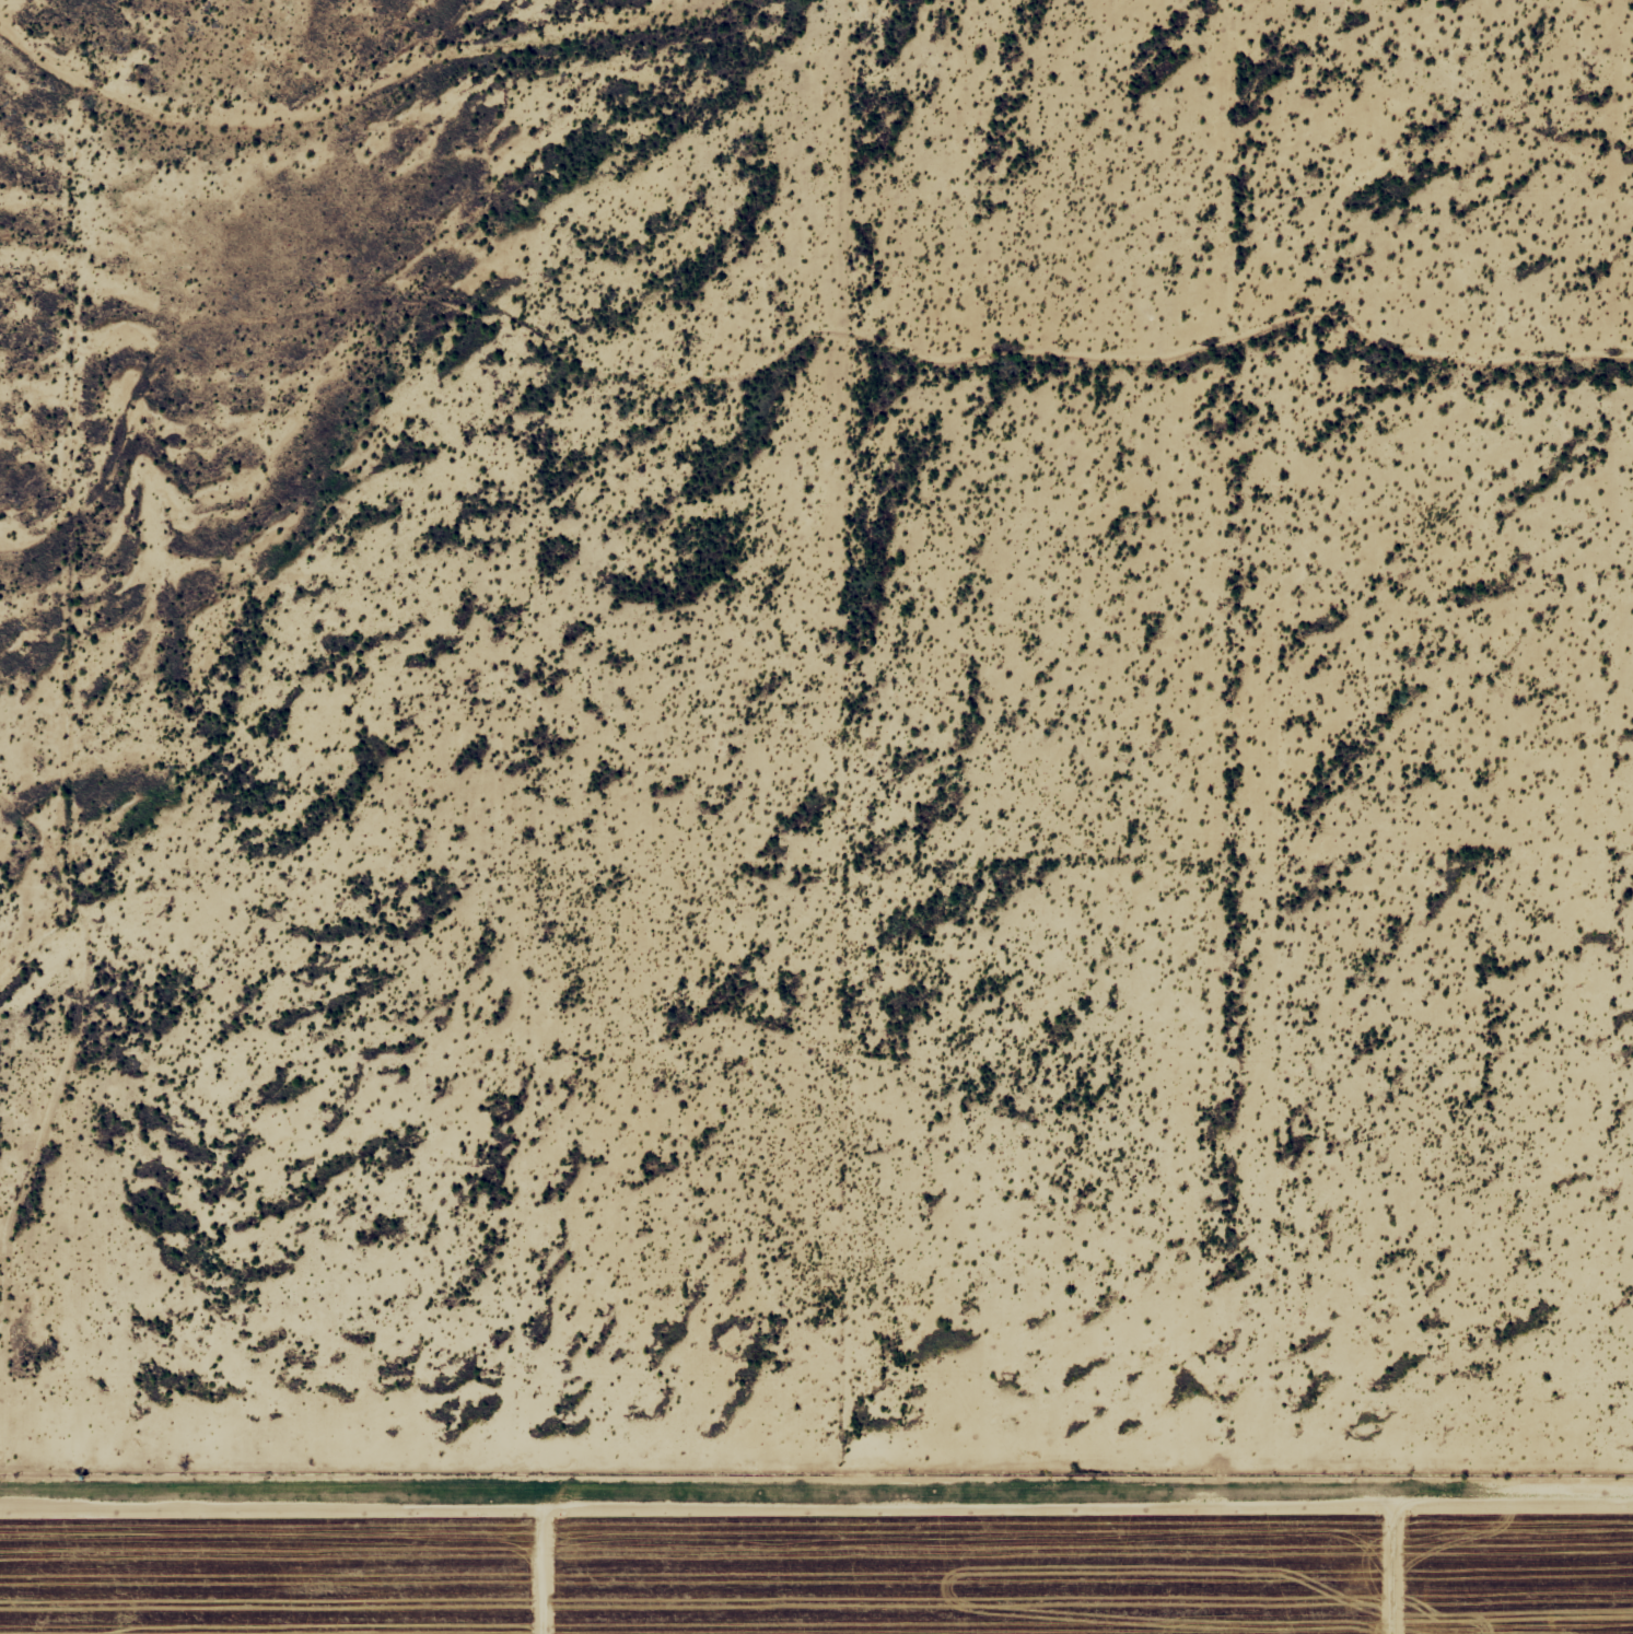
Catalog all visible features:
road: (816, 1539)

